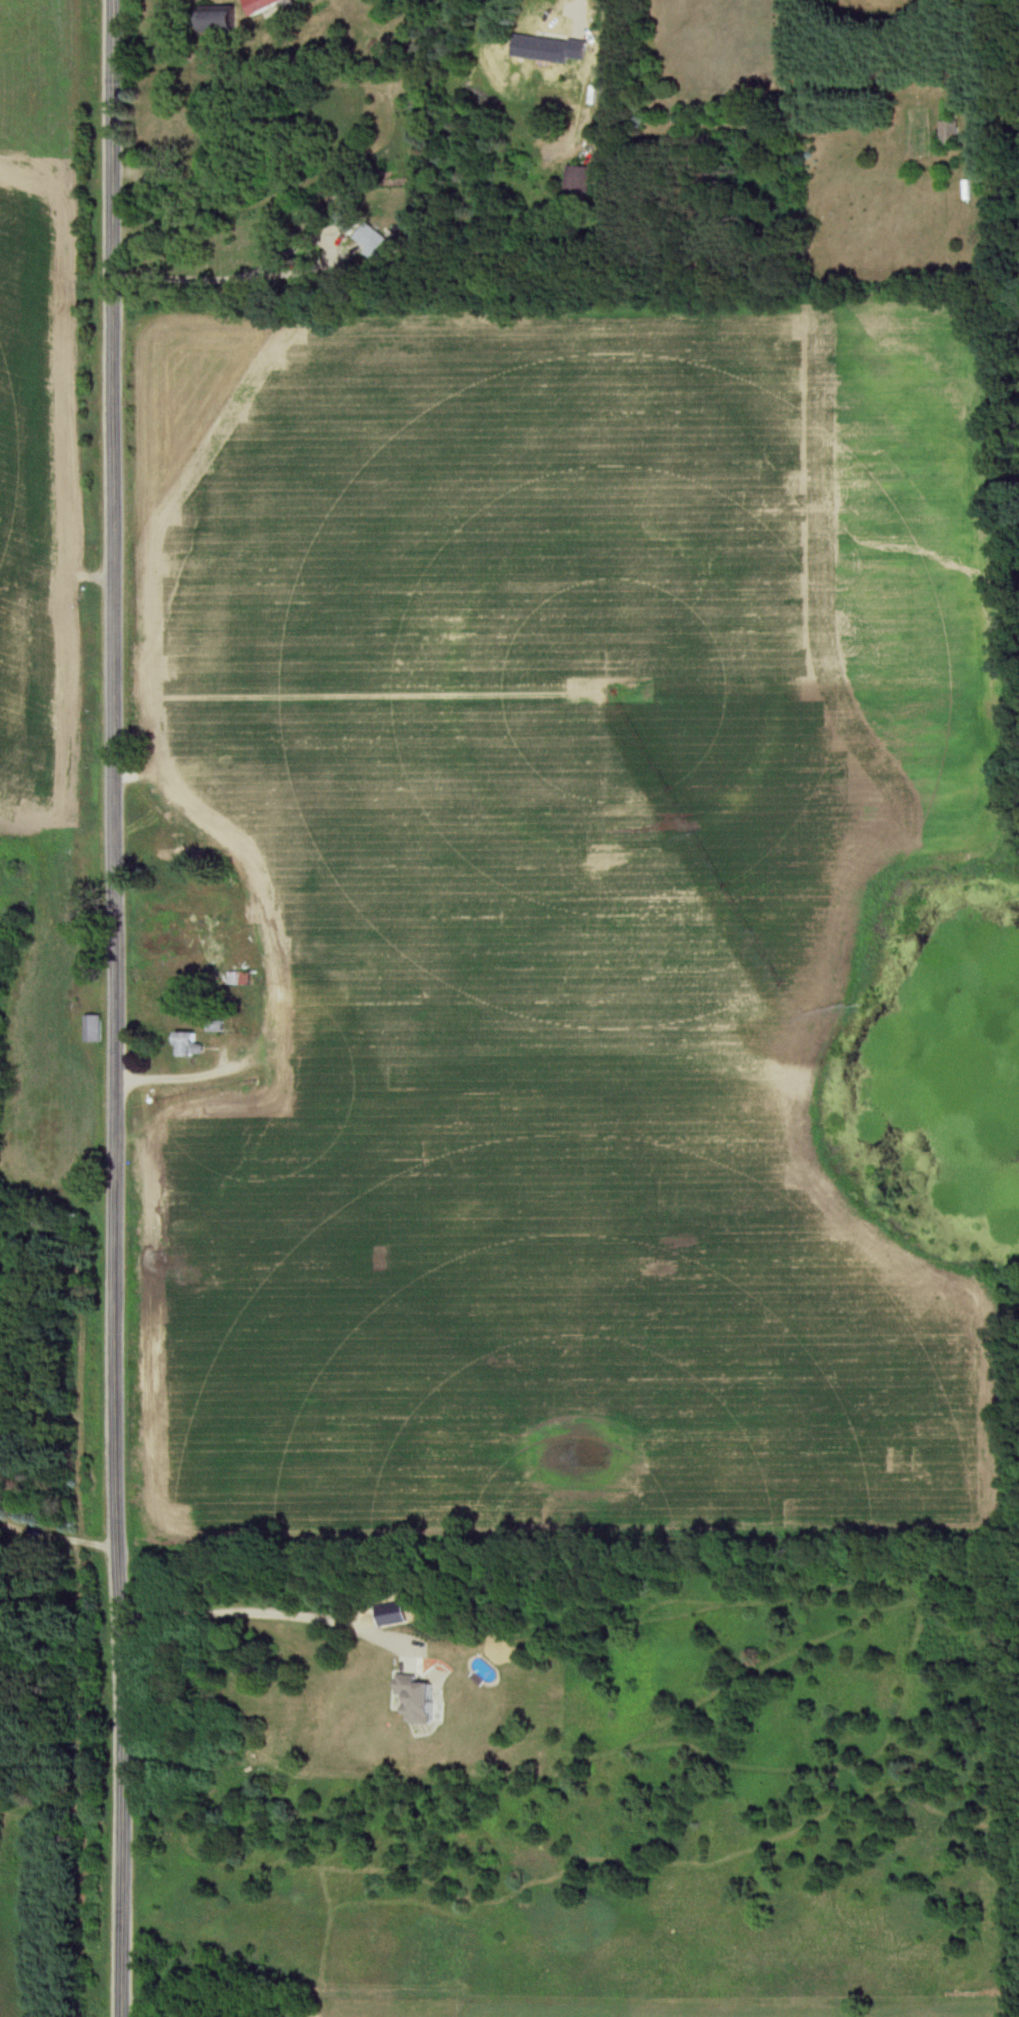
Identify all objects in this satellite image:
building: (263, 5)
road: (576, 6)
building: (219, 20)
building: (551, 50)
building: (948, 133)
building: (577, 184)
building: (372, 243)
road: (283, 275)
building: (223, 774)
building: (184, 799)
building: (244, 980)
road: (117, 1008)
building: (297, 1009)
building: (93, 1028)
building: (266, 1033)
building: (189, 1045)
road: (246, 1066)
road: (59, 1542)
road: (261, 1612)

